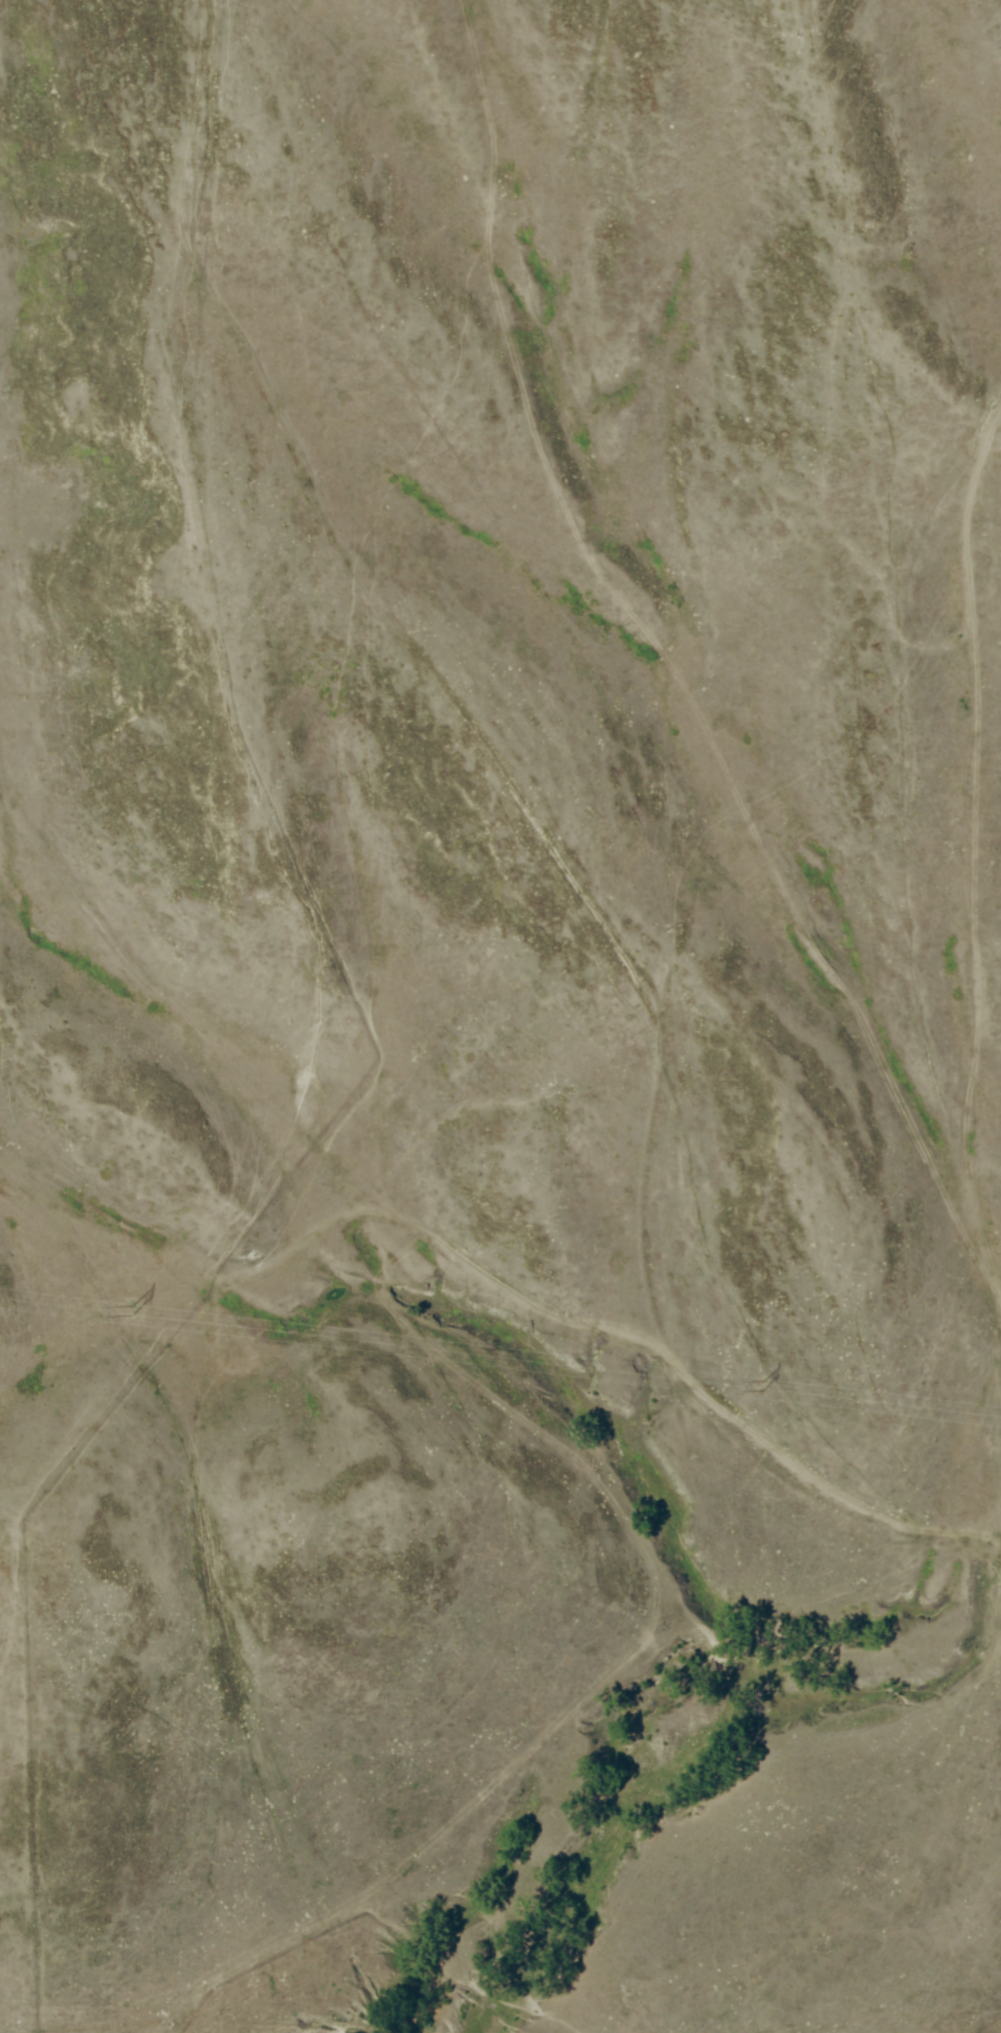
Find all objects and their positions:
power tower: (133, 1312)
power tower: (764, 1388)

